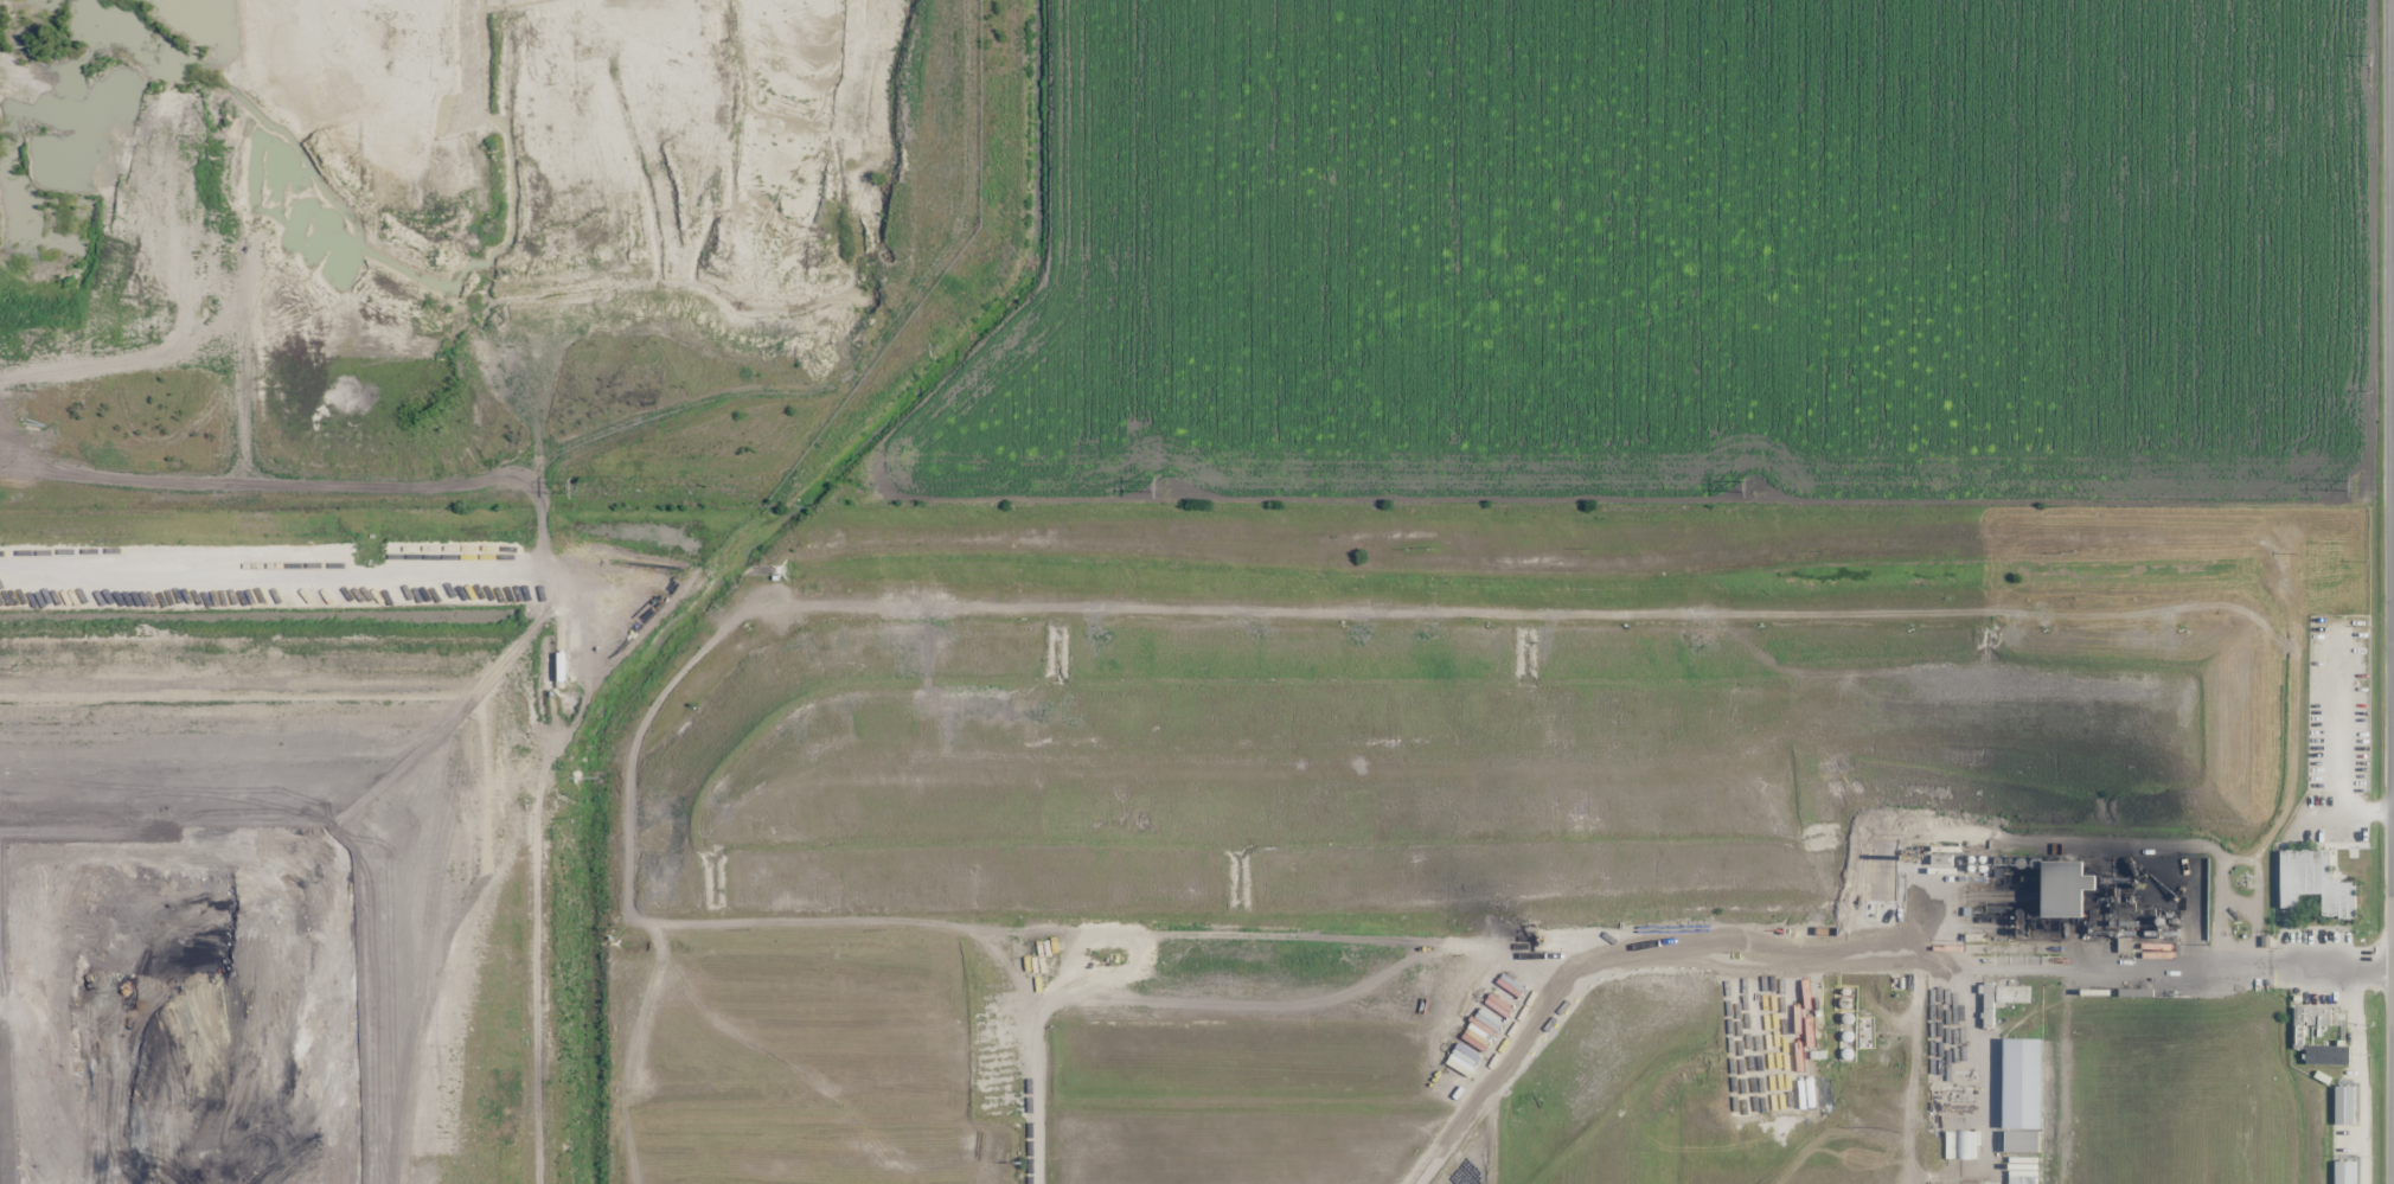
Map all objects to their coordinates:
power tower: (1753, 486)
power tower: (1173, 488)
power tower: (585, 489)
power tower: (2355, 489)
road: (2381, 591)
building: (1942, 862)
building: (2315, 884)
building: (2063, 891)
building: (2002, 1000)
building: (2309, 1023)
building: (2022, 1086)

